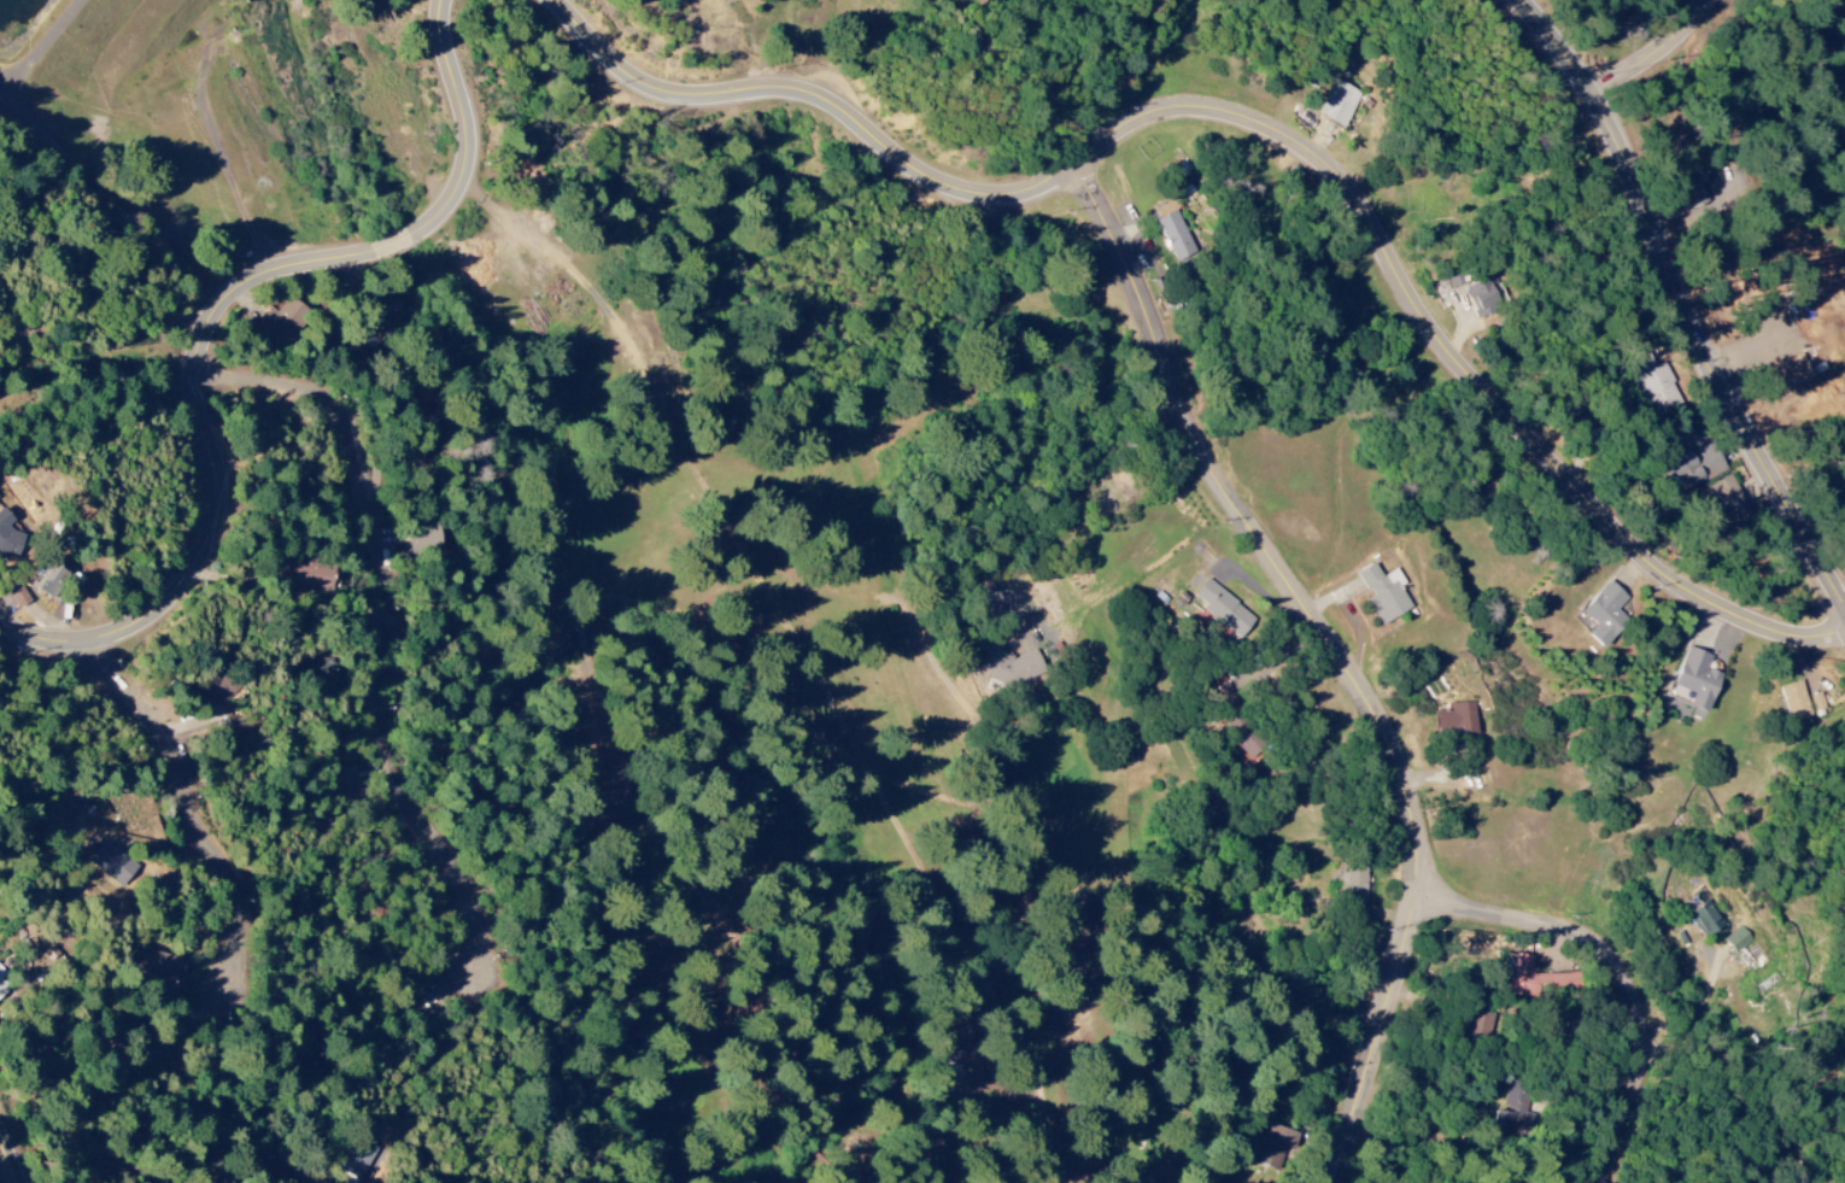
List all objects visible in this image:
road: (1658, 49)
building: (1339, 103)
road: (1267, 128)
building: (1698, 193)
building: (1173, 232)
road: (1683, 298)
building: (1482, 299)
building: (283, 321)
road: (210, 326)
building: (1797, 370)
building: (1658, 385)
building: (1699, 465)
building: (1727, 502)
building: (7, 537)
building: (423, 541)
building: (311, 574)
building: (49, 580)
building: (1384, 593)
park: (660, 596)
building: (18, 597)
building: (1222, 608)
building: (1606, 614)
road: (388, 623)
road: (769, 656)
road: (1340, 656)
building: (1006, 663)
building: (317, 668)
building: (1697, 678)
building: (223, 687)
building: (1794, 702)
building: (1818, 704)
building: (1457, 719)
building: (1234, 721)
building: (345, 785)
road: (200, 803)
building: (111, 863)
building: (1351, 880)
building: (1706, 920)
building: (1736, 939)
building: (154, 964)
road: (1623, 970)
building: (1535, 979)
building: (2, 984)
building: (1472, 1023)
building: (1513, 1095)
building: (1273, 1146)
road: (14, 1149)

